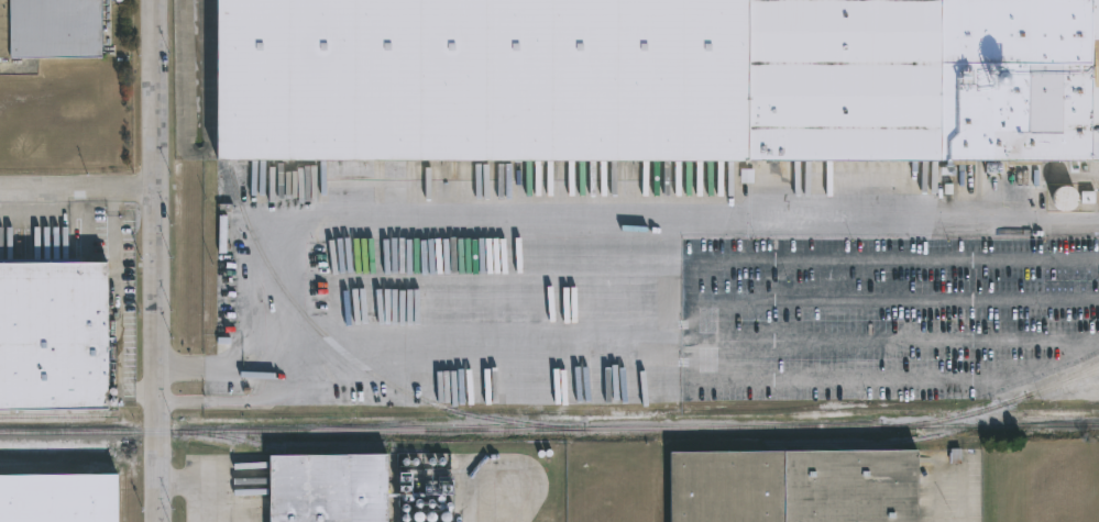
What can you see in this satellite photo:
building: (50, 29)
building: (652, 79)
road: (78, 186)
building: (1064, 198)
storage tank: (1065, 198)
road: (547, 220)
road: (113, 244)
road: (854, 259)
road: (157, 260)
road: (894, 297)
building: (50, 335)
road: (894, 340)
road: (690, 352)
railway: (356, 360)
road: (636, 362)
road: (223, 369)
railway: (1002, 402)
railway: (61, 413)
railway: (549, 425)
railway: (288, 446)
road: (205, 482)
building: (322, 486)
building: (791, 487)
road: (964, 493)
building: (57, 498)
road: (498, 507)

